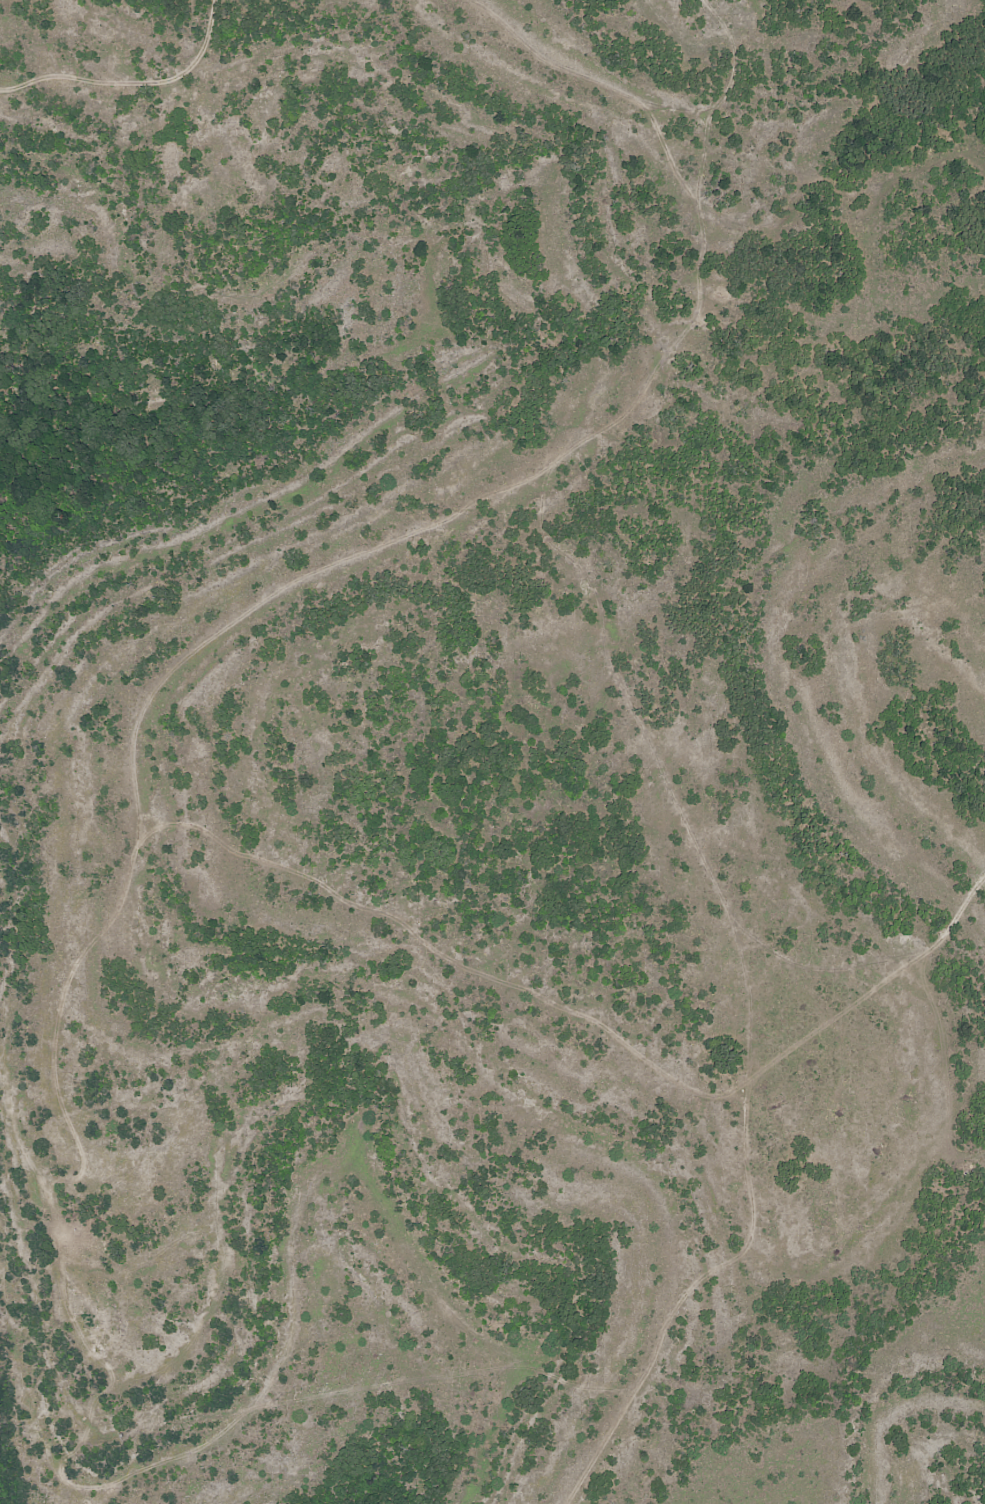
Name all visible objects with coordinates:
road: (137, 51)
road: (584, 67)
road: (592, 613)
road: (705, 1266)

